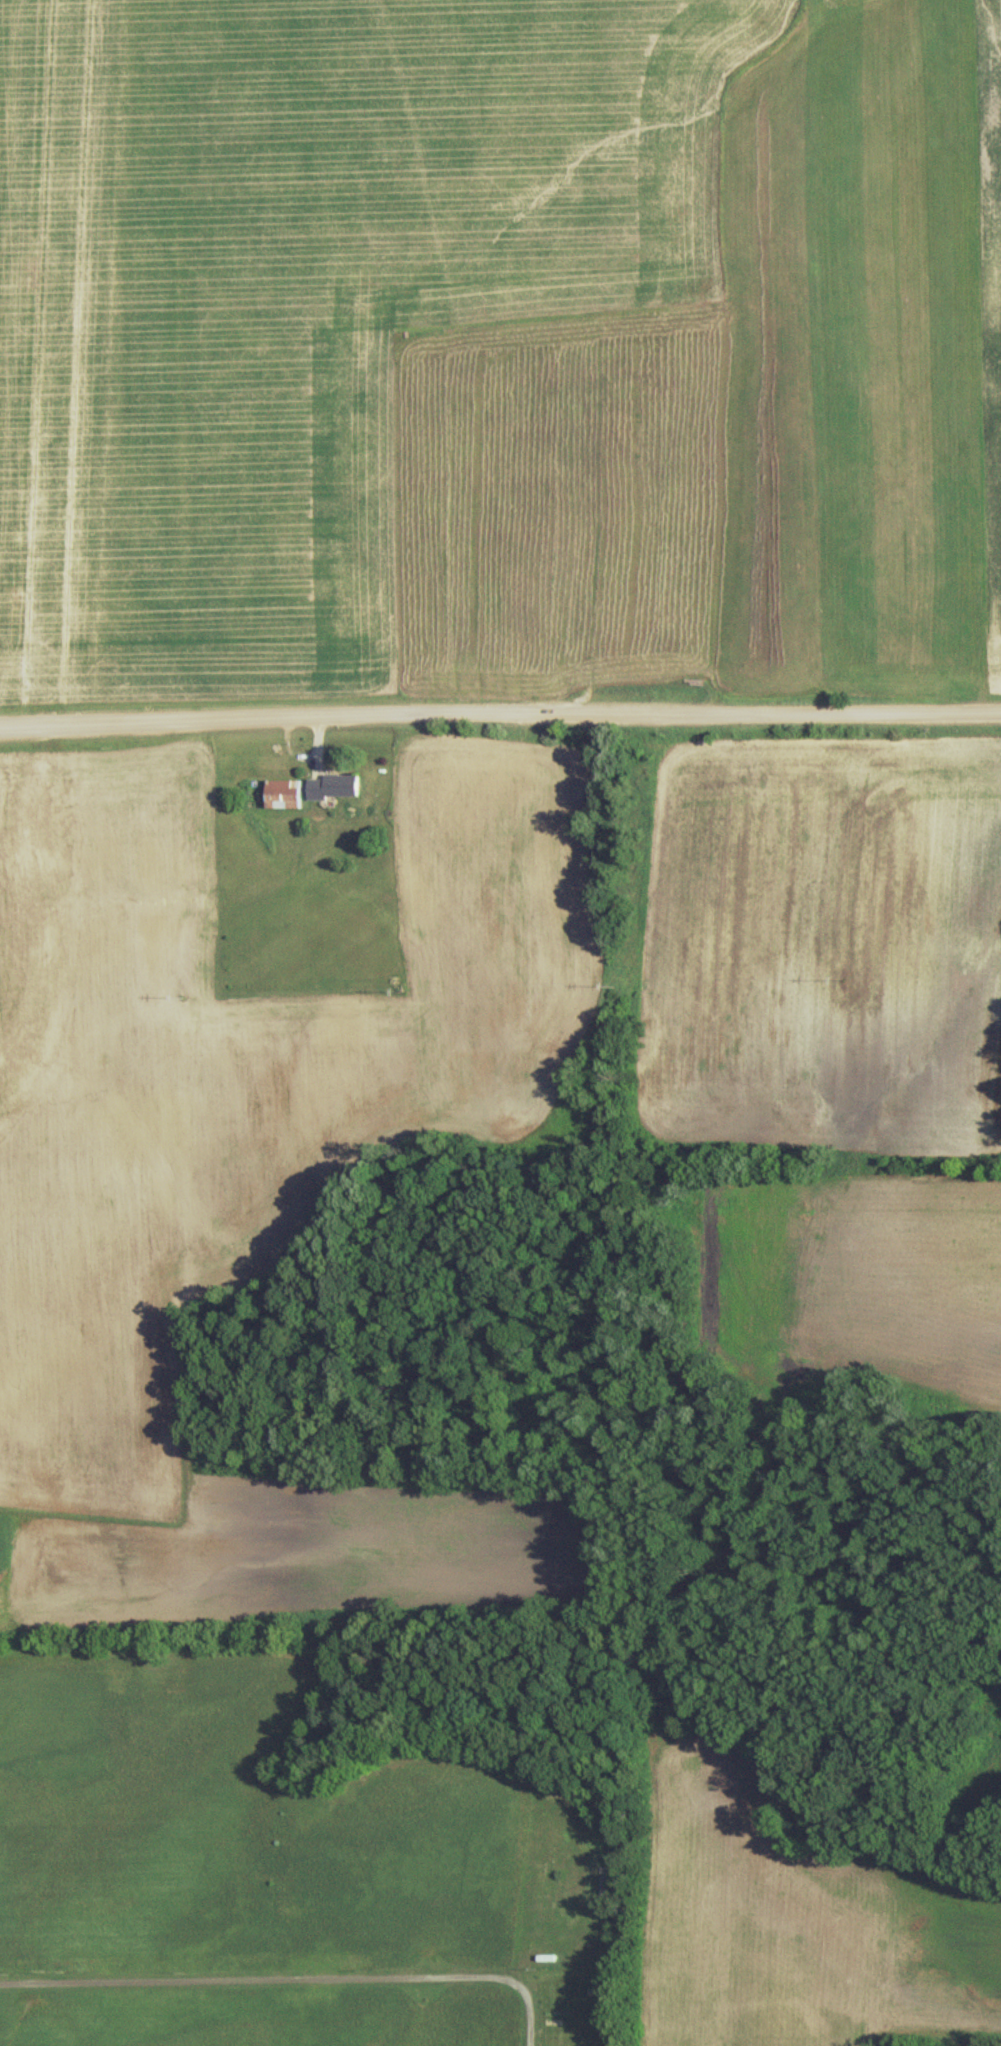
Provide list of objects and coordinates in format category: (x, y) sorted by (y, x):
road: (500, 715)
building: (339, 784)
building: (288, 792)

